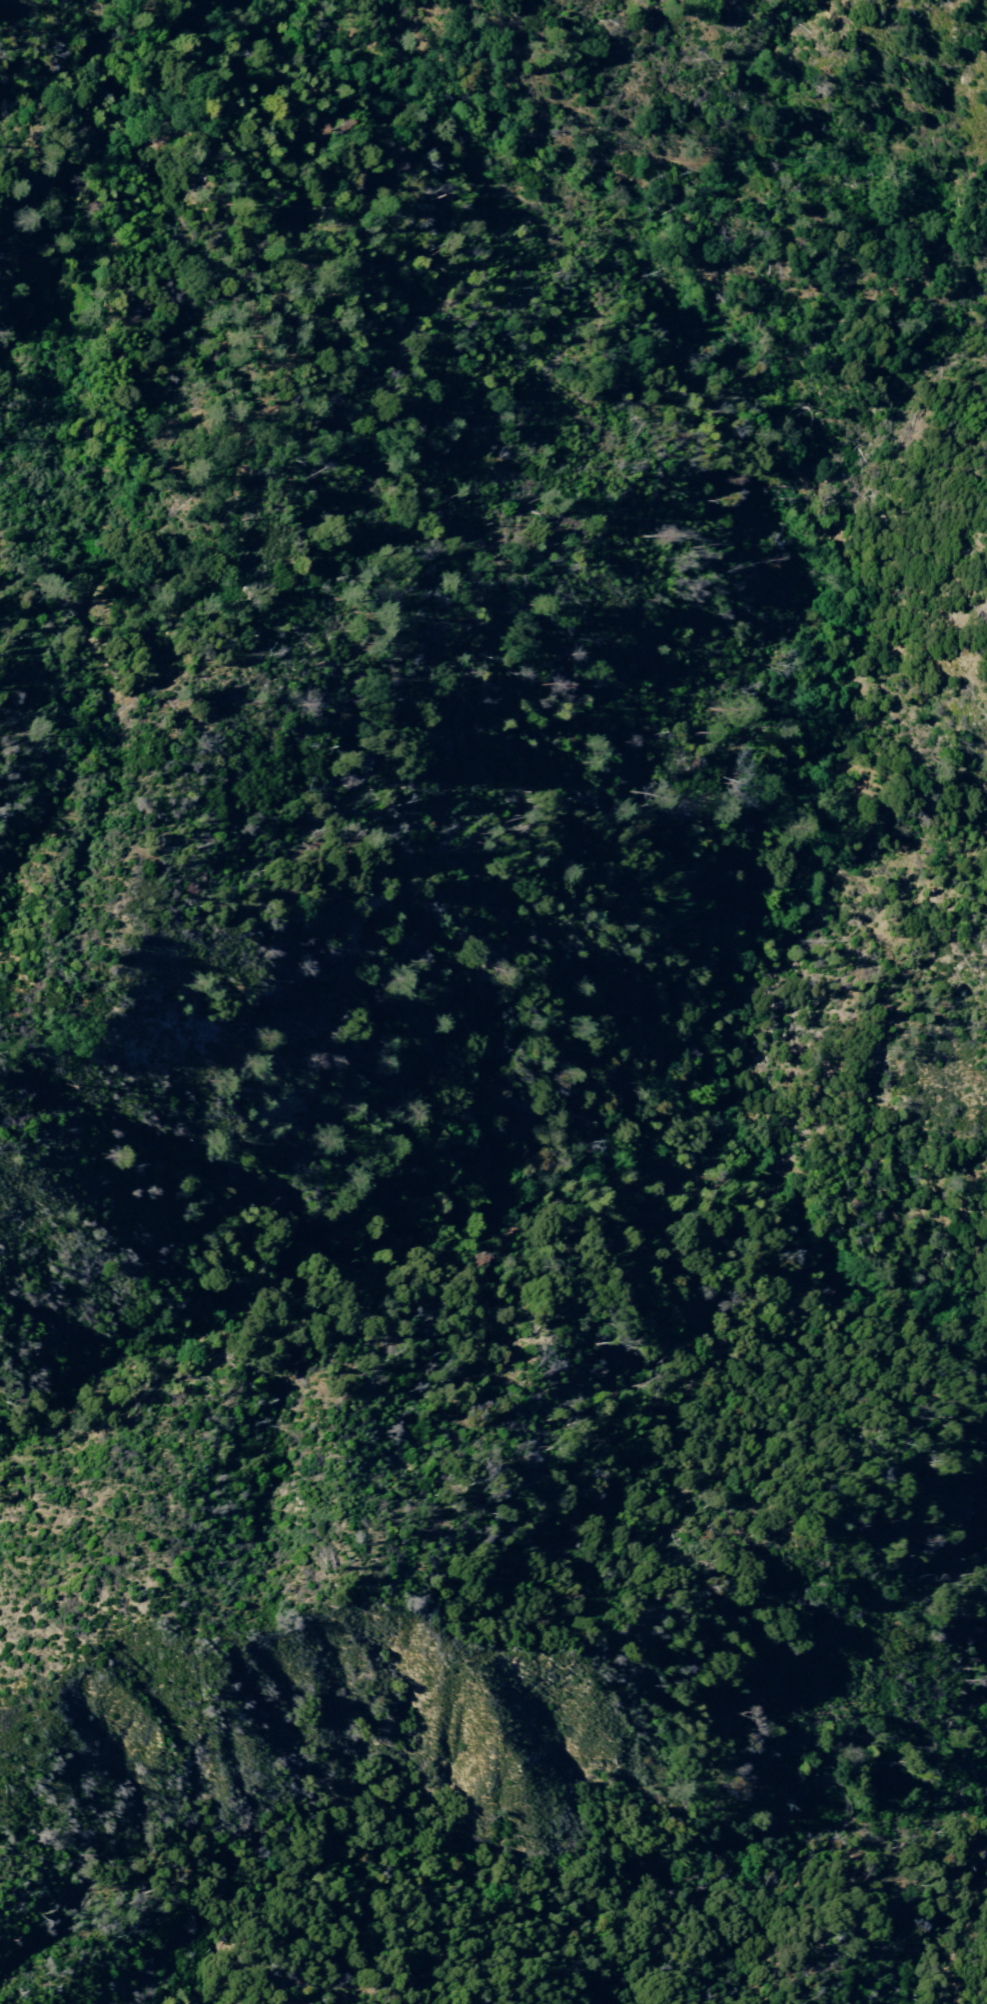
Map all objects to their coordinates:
road: (462, 186)
road: (827, 297)

